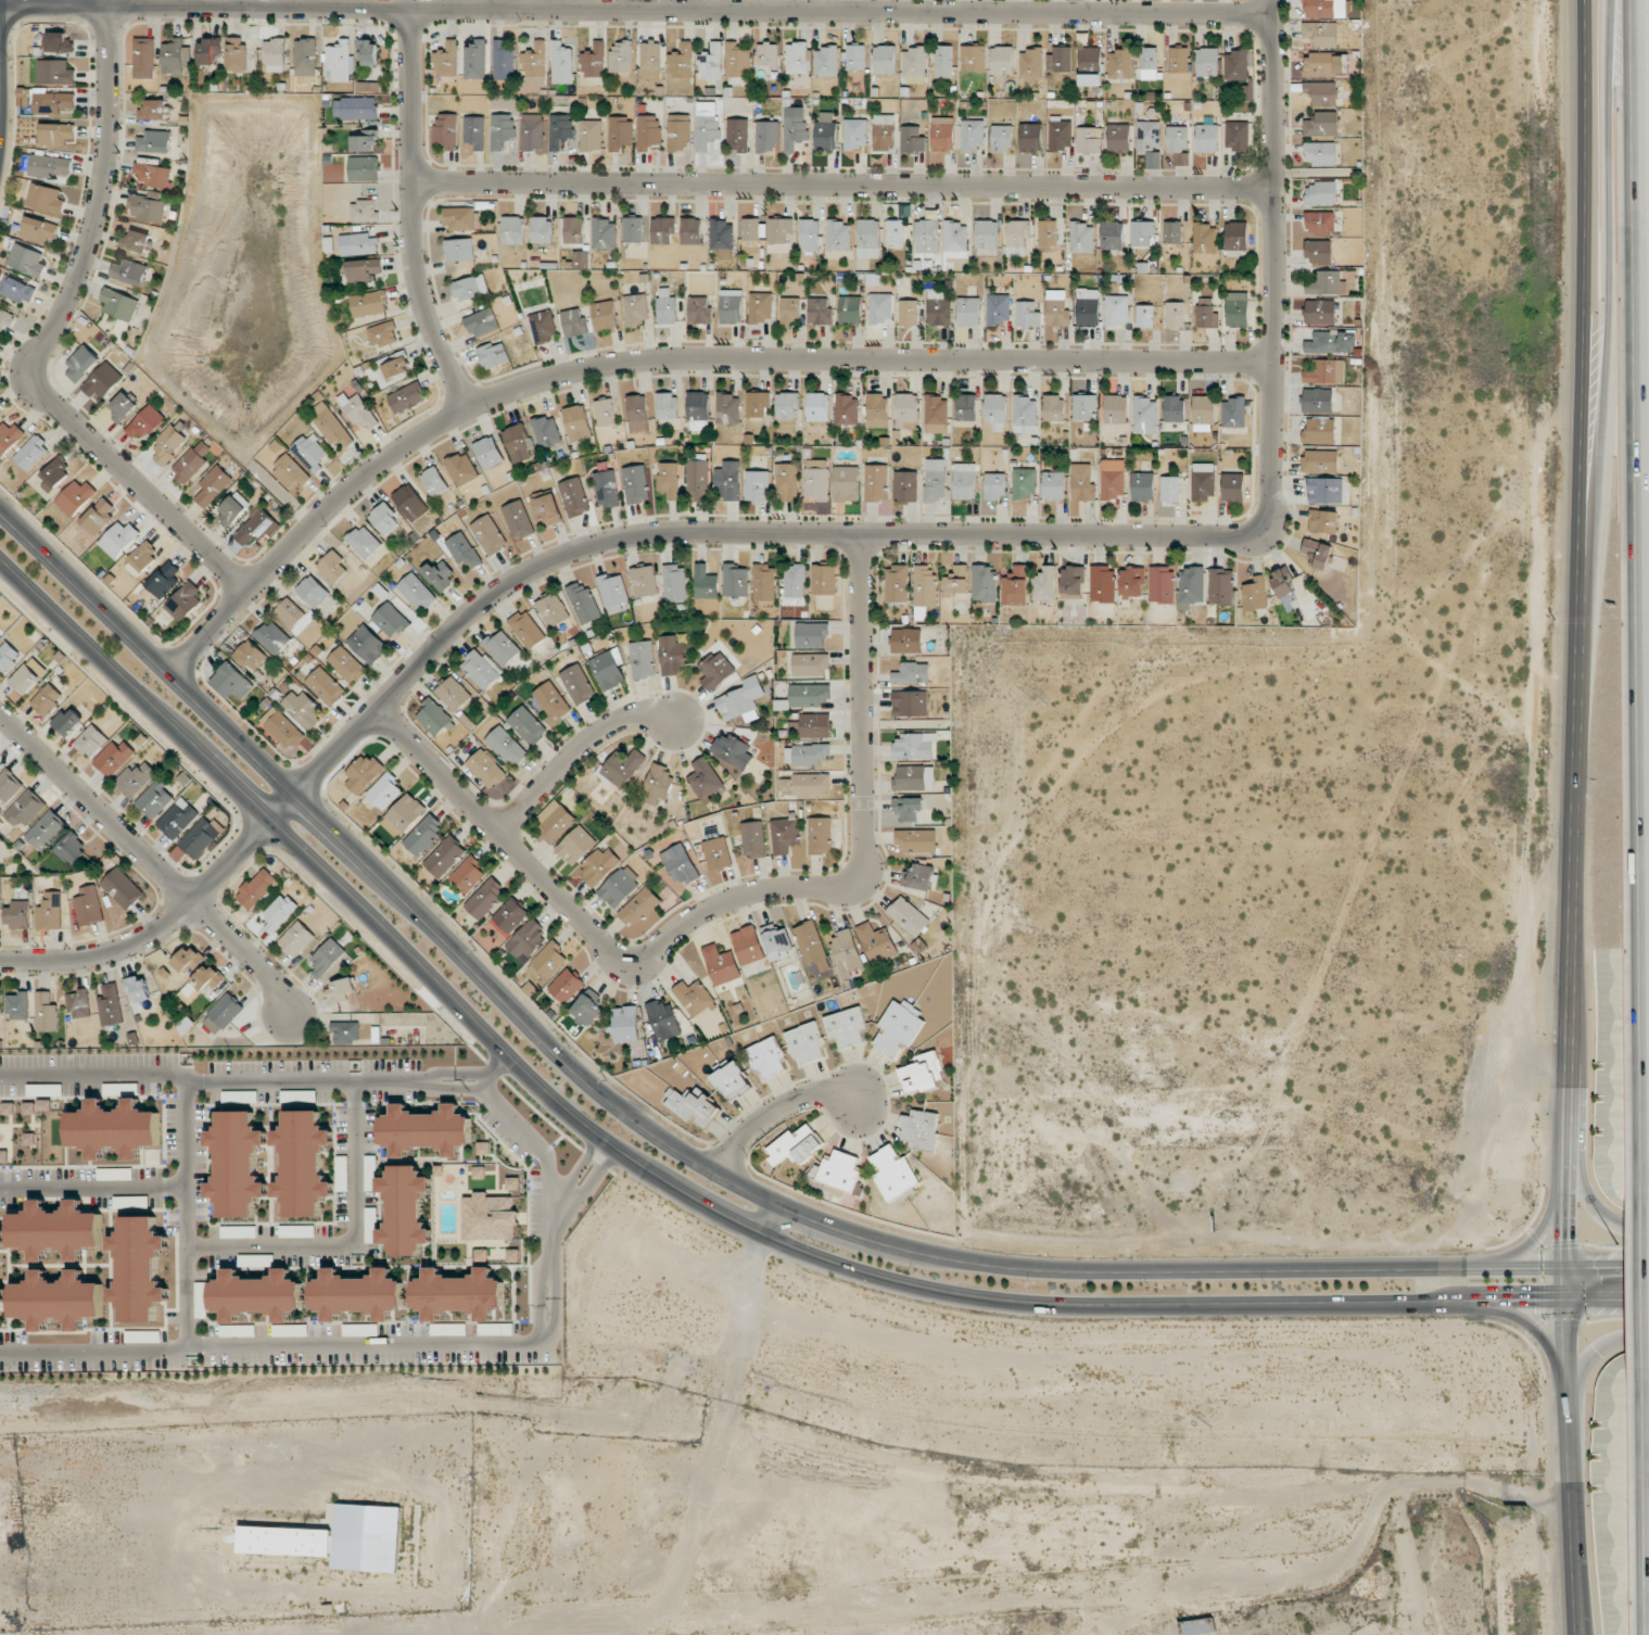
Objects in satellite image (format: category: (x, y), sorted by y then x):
road: (109, 3)
road: (531, 4)
building: (1324, 8)
road: (637, 10)
building: (1320, 34)
building: (59, 42)
building: (208, 51)
building: (368, 52)
building: (237, 54)
building: (768, 54)
building: (275, 55)
building: (621, 55)
building: (175, 56)
building: (305, 56)
building: (854, 56)
building: (974, 56)
building: (144, 58)
building: (797, 58)
building: (475, 59)
building: (1060, 59)
building: (447, 60)
building: (650, 60)
building: (737, 60)
building: (885, 60)
building: (1002, 60)
building: (1179, 60)
building: (503, 61)
building: (594, 61)
building: (681, 61)
building: (826, 61)
building: (943, 61)
building: (338, 62)
building: (711, 62)
building: (1207, 62)
building: (561, 63)
building: (1149, 63)
building: (535, 64)
building: (1120, 64)
building: (1323, 64)
building: (914, 65)
building: (1090, 65)
building: (1236, 65)
building: (54, 72)
building: (1247, 92)
building: (1322, 93)
building: (54, 103)
building: (355, 107)
building: (153, 110)
building: (1321, 125)
building: (794, 127)
building: (446, 130)
building: (502, 130)
building: (560, 130)
building: (474, 131)
building: (648, 131)
building: (707, 131)
building: (825, 131)
building: (532, 132)
building: (620, 132)
building: (678, 132)
building: (884, 132)
building: (56, 134)
building: (854, 134)
building: (942, 134)
building: (1060, 134)
building: (591, 135)
building: (738, 135)
building: (973, 135)
building: (1149, 135)
building: (766, 136)
building: (1238, 136)
building: (1002, 137)
building: (1030, 137)
building: (364, 138)
building: (1118, 138)
building: (1207, 138)
building: (912, 139)
building: (1089, 139)
building: (154, 141)
building: (1178, 143)
building: (1320, 153)
building: (1153, 160)
building: (48, 165)
building: (363, 168)
building: (151, 174)
road: (845, 188)
building: (1320, 193)
building: (45, 200)
building: (147, 206)
building: (905, 210)
building: (364, 211)
road: (414, 215)
building: (460, 218)
building: (1320, 221)
building: (39, 229)
building: (541, 229)
building: (633, 229)
building: (662, 229)
building: (779, 229)
building: (513, 230)
building: (573, 230)
building: (896, 230)
building: (690, 231)
building: (1172, 231)
building: (1048, 232)
building: (604, 233)
building: (927, 233)
building: (1143, 233)
building: (810, 235)
building: (987, 235)
building: (1112, 235)
building: (750, 236)
building: (838, 236)
building: (1235, 236)
building: (955, 237)
building: (722, 238)
building: (868, 238)
building: (1017, 238)
building: (1081, 238)
building: (1205, 238)
building: (137, 241)
building: (358, 243)
building: (459, 250)
building: (1318, 251)
road: (1274, 258)
building: (27, 259)
building: (581, 259)
building: (365, 269)
building: (128, 271)
building: (1327, 283)
building: (470, 288)
building: (17, 289)
building: (368, 303)
building: (119, 304)
building: (667, 306)
building: (731, 306)
building: (760, 307)
building: (1056, 307)
building: (1088, 307)
building: (636, 308)
building: (880, 308)
building: (939, 308)
building: (998, 308)
building: (850, 309)
building: (1117, 309)
building: (1238, 309)
building: (700, 310)
building: (790, 310)
building: (820, 310)
building: (968, 312)
building: (1320, 312)
building: (909, 313)
building: (1027, 314)
building: (1206, 314)
building: (605, 315)
building: (1175, 315)
building: (1144, 316)
building: (5, 319)
building: (482, 322)
building: (574, 322)
building: (544, 326)
building: (382, 334)
road: (1587, 340)
road: (1613, 341)
building: (1332, 342)
road: (47, 343)
building: (494, 355)
road: (668, 362)
building: (81, 364)
building: (395, 365)
building: (1325, 371)
building: (102, 380)
building: (406, 397)
building: (1318, 401)
building: (758, 404)
building: (667, 405)
building: (787, 405)
building: (819, 406)
building: (1083, 406)
building: (123, 407)
building: (966, 407)
building: (727, 408)
building: (1053, 408)
building: (1115, 408)
building: (1174, 408)
building: (847, 409)
building: (1203, 409)
building: (698, 410)
building: (876, 410)
building: (906, 410)
building: (995, 410)
building: (359, 411)
building: (605, 411)
building: (1234, 413)
building: (637, 414)
building: (936, 414)
building: (1025, 415)
building: (1145, 416)
building: (145, 422)
building: (578, 423)
building: (546, 431)
building: (1319, 431)
building: (8, 438)
building: (518, 442)
building: (168, 444)
building: (489, 452)
building: (31, 453)
building: (312, 453)
building: (1320, 460)
building: (191, 461)
building: (461, 468)
building: (54, 473)
building: (291, 473)
building: (697, 477)
building: (1114, 478)
building: (816, 479)
building: (669, 480)
building: (935, 480)
building: (434, 481)
building: (727, 481)
building: (964, 481)
building: (1203, 481)
building: (786, 482)
building: (1025, 482)
building: (1082, 482)
building: (635, 483)
building: (846, 483)
building: (876, 483)
building: (213, 485)
building: (757, 485)
building: (905, 485)
building: (995, 485)
building: (1054, 485)
building: (1142, 486)
building: (1232, 486)
building: (606, 487)
building: (1170, 490)
building: (1324, 490)
building: (75, 497)
building: (574, 497)
building: (410, 502)
building: (547, 508)
building: (233, 509)
building: (99, 517)
building: (383, 518)
building: (518, 519)
building: (1322, 521)
building: (257, 527)
building: (489, 534)
building: (118, 538)
building: (364, 542)
building: (462, 549)
building: (1318, 553)
building: (144, 556)
road: (565, 558)
building: (333, 567)
building: (440, 573)
building: (165, 579)
building: (735, 580)
building: (795, 580)
building: (824, 580)
building: (956, 581)
building: (1132, 581)
building: (644, 582)
building: (764, 582)
building: (1073, 582)
building: (1282, 582)
building: (675, 583)
building: (706, 583)
building: (897, 583)
building: (984, 583)
building: (1102, 583)
building: (1044, 584)
building: (1162, 584)
building: (925, 585)
building: (1015, 586)
building: (1191, 586)
building: (1221, 586)
building: (313, 591)
building: (416, 592)
road: (1637, 593)
building: (1255, 594)
building: (185, 601)
building: (583, 601)
building: (553, 610)
building: (290, 612)
building: (391, 620)
building: (527, 629)
building: (811, 634)
building: (272, 637)
building: (906, 641)
building: (367, 644)
building: (502, 647)
building: (251, 655)
building: (672, 656)
building: (8, 657)
building: (642, 659)
building: (347, 664)
building: (810, 664)
building: (608, 669)
building: (480, 670)
building: (715, 670)
building: (912, 673)
building: (28, 675)
building: (231, 682)
building: (578, 684)
building: (325, 686)
building: (454, 694)
building: (809, 695)
building: (47, 699)
building: (741, 700)
building: (551, 701)
building: (910, 704)
building: (303, 709)
building: (434, 717)
building: (67, 722)
building: (528, 725)
building: (814, 725)
building: (282, 727)
building: (90, 740)
building: (507, 746)
building: (914, 746)
building: (732, 750)
road: (574, 752)
building: (806, 753)
building: (114, 758)
building: (0, 765)
building: (622, 768)
building: (486, 769)
building: (364, 774)
building: (136, 778)
building: (914, 778)
building: (706, 780)
building: (657, 785)
building: (806, 785)
building: (9, 786)
building: (384, 790)
building: (154, 799)
building: (908, 808)
building: (403, 815)
building: (178, 819)
building: (554, 820)
building: (47, 831)
building: (423, 834)
building: (784, 835)
building: (820, 835)
building: (200, 838)
building: (753, 839)
building: (915, 840)
building: (575, 845)
building: (71, 849)
building: (718, 853)
building: (445, 855)
road: (149, 864)
building: (681, 864)
building: (600, 865)
building: (468, 874)
building: (917, 877)
building: (619, 887)
building: (122, 888)
building: (256, 888)
building: (485, 898)
road: (732, 900)
building: (88, 907)
building: (639, 907)
building: (50, 911)
building: (279, 912)
building: (18, 915)
building: (510, 915)
building: (908, 916)
building: (296, 938)
building: (528, 938)
building: (876, 942)
building: (778, 943)
building: (748, 945)
building: (812, 950)
building: (846, 952)
building: (188, 959)
building: (326, 959)
building: (549, 960)
building: (721, 964)
building: (203, 981)
building: (566, 985)
building: (342, 989)
building: (694, 997)
building: (79, 1003)
building: (111, 1005)
building: (18, 1006)
building: (588, 1007)
building: (47, 1012)
building: (223, 1013)
building: (663, 1019)
building: (625, 1024)
building: (846, 1026)
building: (898, 1026)
building: (346, 1032)
building: (806, 1041)
building: (766, 1056)
road: (495, 1068)
building: (922, 1073)
road: (455, 1075)
building: (732, 1079)
road: (211, 1082)
road: (454, 1087)
building: (45, 1090)
building: (245, 1098)
building: (45, 1105)
building: (693, 1107)
building: (9, 1108)
building: (29, 1108)
road: (773, 1113)
building: (115, 1128)
building: (921, 1129)
building: (426, 1130)
building: (29, 1139)
building: (795, 1145)
road: (1569, 1148)
building: (4, 1156)
building: (304, 1163)
building: (238, 1164)
road: (356, 1164)
road: (548, 1165)
road: (705, 1165)
building: (838, 1170)
building: (370, 1173)
building: (479, 1173)
building: (893, 1173)
building: (115, 1174)
road: (576, 1174)
building: (513, 1183)
road: (584, 1191)
road: (1586, 1193)
building: (122, 1202)
road: (706, 1207)
building: (405, 1211)
road: (187, 1215)
building: (489, 1217)
road: (774, 1221)
building: (371, 1225)
building: (58, 1230)
building: (238, 1231)
building: (297, 1231)
traffic signals: (1569, 1235)
road: (1538, 1237)
building: (2, 1239)
road: (271, 1246)
building: (512, 1256)
building: (140, 1268)
traffic signals: (1603, 1270)
road: (1644, 1287)
building: (358, 1294)
building: (459, 1294)
building: (2, 1295)
building: (257, 1295)
building: (58, 1300)
building: (201, 1300)
traffic signals: (1531, 1304)
road: (542, 1305)
road: (553, 1310)
building: (447, 1329)
building: (290, 1330)
building: (360, 1330)
building: (143, 1336)
road: (1542, 1343)
road: (351, 1345)
road: (80, 1353)
road: (1595, 1354)
road: (1646, 1511)
building: (367, 1537)
building: (287, 1541)
road: (1577, 1624)
road: (1578, 1624)
building: (1197, 1626)

